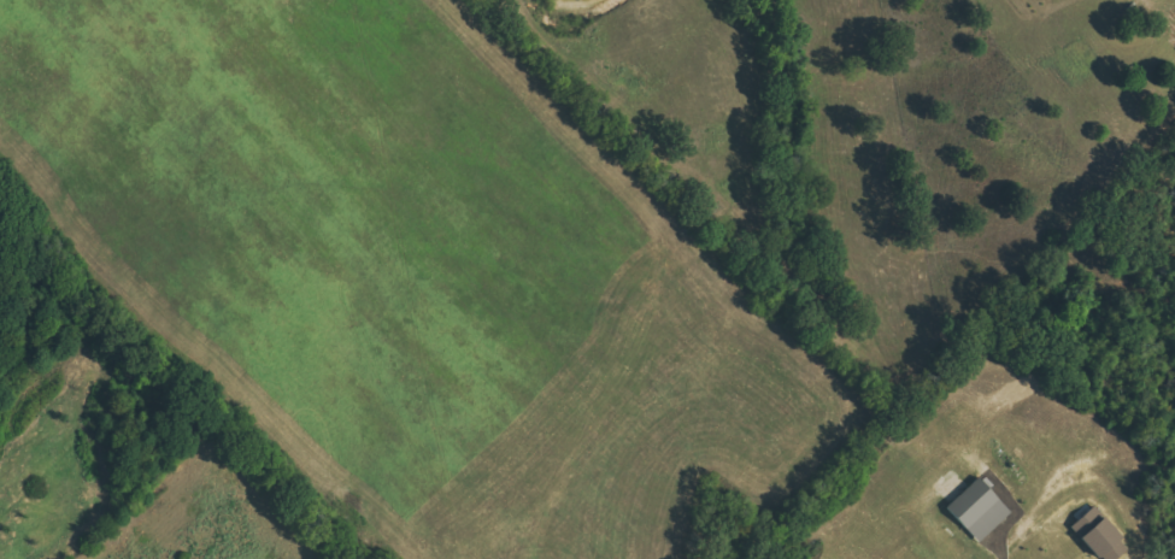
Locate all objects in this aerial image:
building: (977, 510)
building: (1098, 536)
road: (1001, 546)

